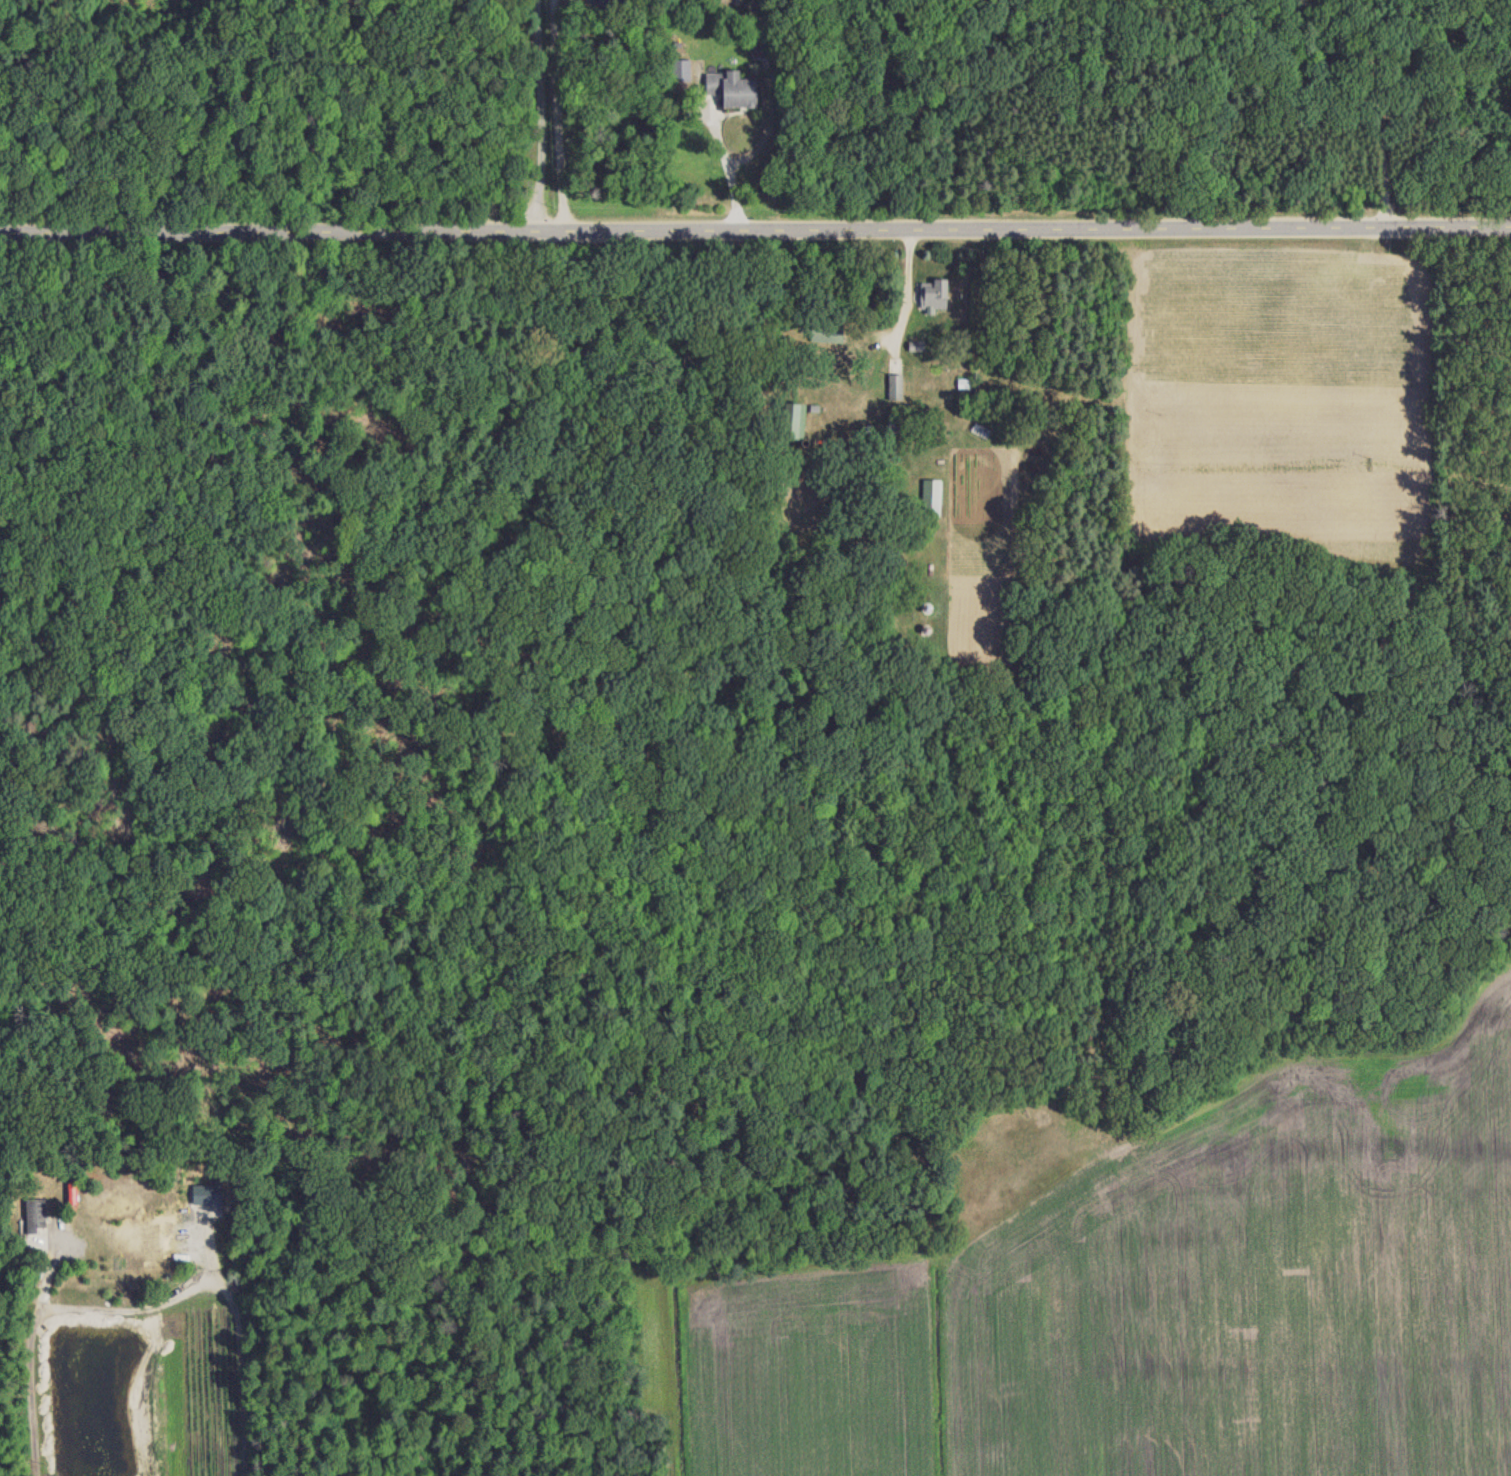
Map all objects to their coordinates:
building: (683, 70)
building: (733, 89)
road: (1377, 114)
road: (542, 116)
road: (560, 116)
road: (731, 173)
road: (755, 231)
road: (908, 291)
building: (933, 295)
building: (833, 334)
building: (895, 387)
building: (931, 498)
building: (204, 1195)
building: (35, 1215)
crop: (1146, 1293)
road: (72, 1313)
crop: (136, 1389)

